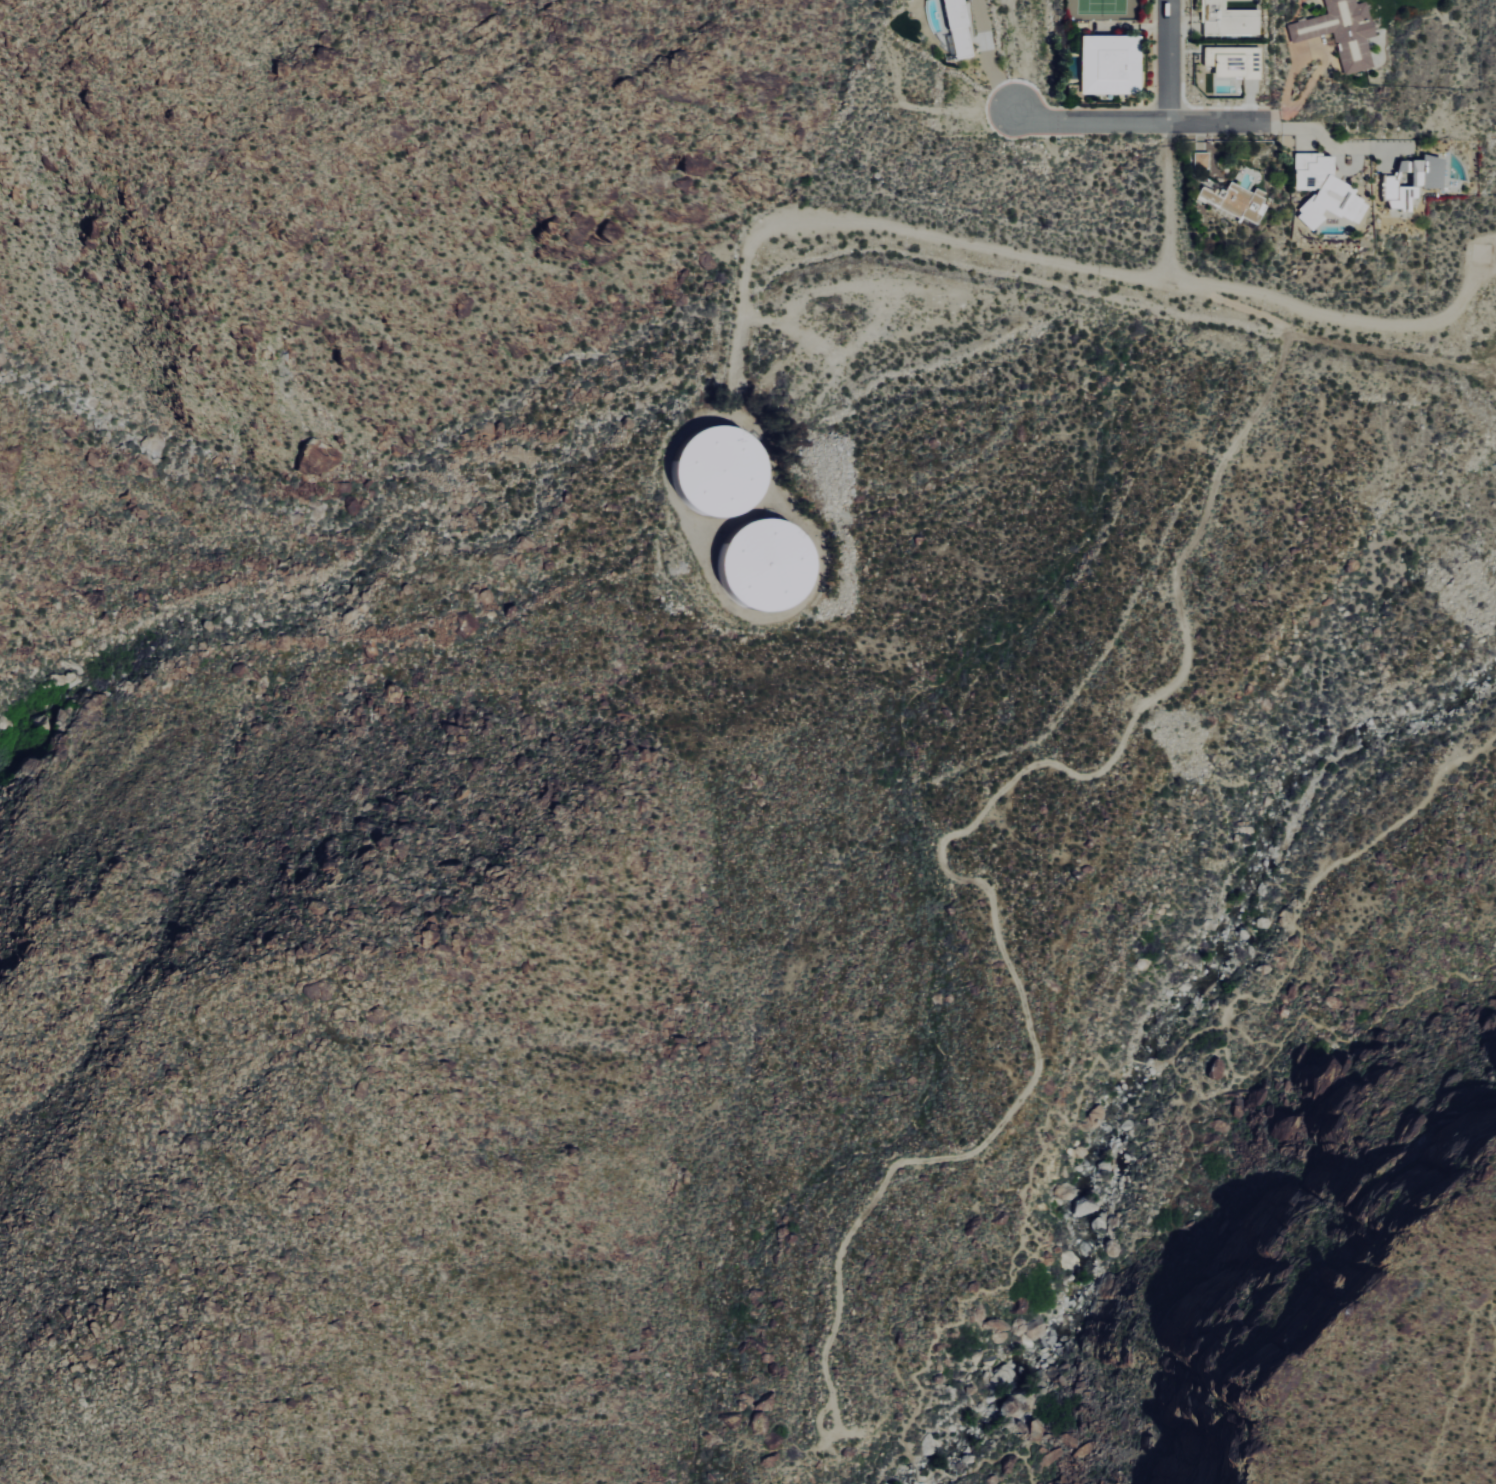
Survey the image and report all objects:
building: (1226, 19)
building: (958, 28)
road: (988, 58)
road: (1170, 62)
road: (1325, 63)
building: (1111, 64)
road: (1139, 124)
road: (1338, 148)
building: (1412, 179)
building: (1321, 190)
road: (943, 235)
road: (1339, 318)
building: (721, 472)
road: (1353, 1046)
road: (1134, 1064)
road: (1463, 1311)
road: (1022, 1453)
road: (902, 1455)

